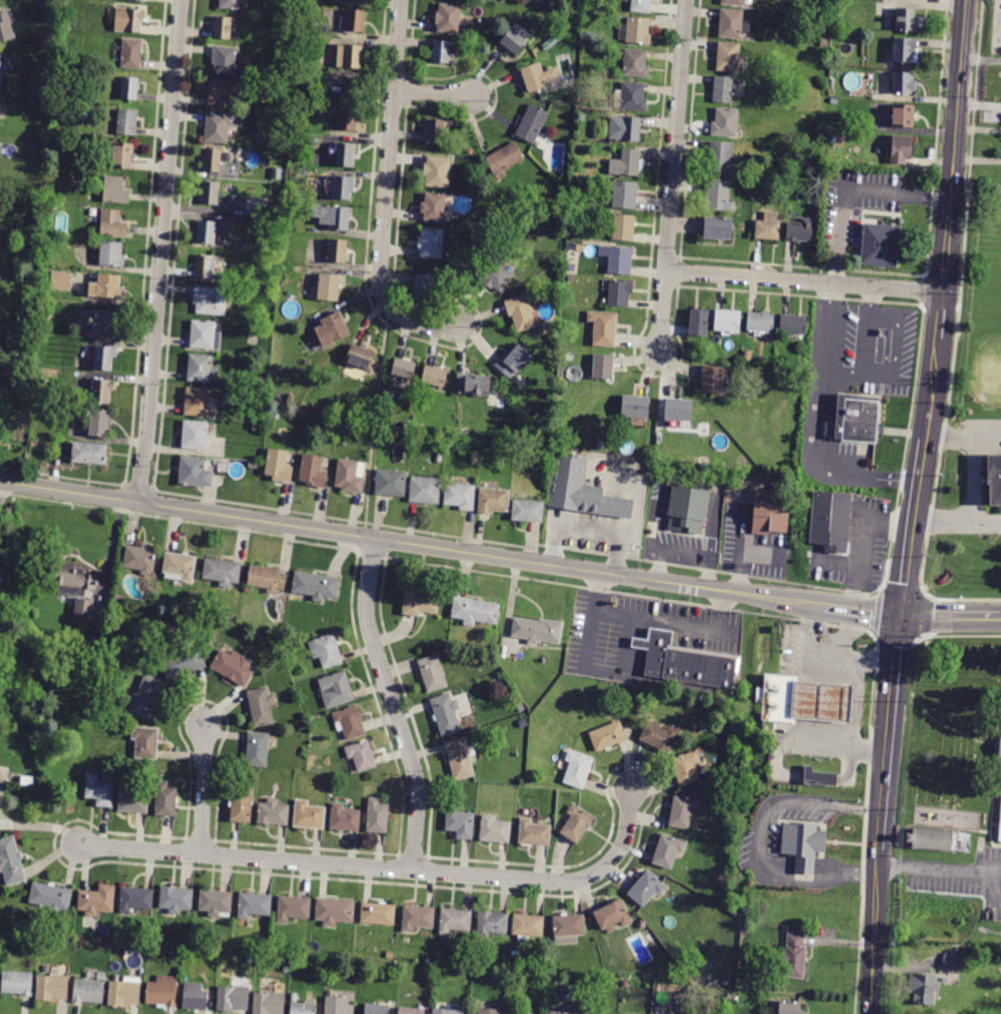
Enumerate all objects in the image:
building: (142, 0)
building: (350, 0)
building: (362, 0)
building: (733, 2)
building: (230, 4)
building: (641, 6)
building: (283, 9)
building: (449, 18)
building: (908, 19)
building: (134, 20)
building: (356, 21)
building: (732, 24)
building: (5, 26)
building: (576, 26)
building: (222, 27)
building: (636, 31)
building: (587, 35)
building: (285, 39)
building: (514, 42)
building: (824, 42)
building: (905, 50)
building: (441, 52)
building: (132, 54)
building: (350, 56)
building: (729, 56)
building: (224, 60)
building: (636, 63)
building: (2, 69)
building: (538, 77)
building: (832, 82)
building: (904, 83)
building: (344, 87)
building: (130, 88)
building: (723, 89)
building: (222, 92)
road: (434, 93)
building: (631, 97)
building: (834, 101)
building: (327, 115)
building: (903, 116)
building: (348, 119)
building: (127, 122)
building: (725, 123)
building: (532, 124)
building: (221, 126)
building: (625, 128)
building: (435, 130)
road: (934, 137)
building: (314, 142)
road: (954, 146)
building: (901, 149)
building: (123, 155)
building: (345, 155)
building: (720, 157)
building: (505, 158)
building: (212, 160)
building: (627, 163)
building: (437, 171)
road: (673, 176)
building: (343, 187)
building: (116, 190)
road: (386, 191)
building: (210, 193)
building: (624, 195)
building: (719, 195)
building: (578, 203)
building: (257, 206)
building: (434, 207)
building: (332, 216)
building: (112, 223)
building: (622, 226)
building: (768, 227)
building: (718, 228)
building: (800, 230)
building: (207, 233)
building: (574, 235)
building: (431, 243)
building: (881, 245)
road: (161, 251)
building: (338, 251)
building: (111, 254)
park: (995, 256)
building: (618, 259)
building: (204, 266)
building: (571, 268)
building: (466, 270)
building: (496, 271)
building: (61, 281)
road: (804, 281)
building: (106, 286)
building: (423, 286)
building: (327, 288)
road: (923, 289)
building: (620, 293)
road: (958, 295)
building: (211, 300)
road: (937, 305)
road: (955, 307)
building: (521, 312)
road: (940, 313)
building: (106, 321)
building: (728, 321)
building: (760, 322)
building: (699, 323)
building: (793, 324)
building: (604, 328)
road: (865, 329)
building: (332, 330)
building: (205, 335)
road: (885, 344)
road: (892, 345)
park: (991, 349)
building: (747, 355)
building: (361, 356)
building: (105, 358)
building: (513, 361)
building: (604, 367)
building: (202, 368)
building: (404, 368)
road: (841, 370)
building: (435, 376)
building: (712, 379)
building: (263, 380)
building: (474, 384)
road: (933, 384)
building: (103, 390)
building: (263, 394)
building: (197, 402)
building: (37, 406)
building: (636, 407)
road: (815, 408)
building: (678, 409)
road: (829, 420)
building: (855, 420)
building: (100, 422)
building: (341, 428)
building: (195, 434)
building: (465, 434)
road: (987, 436)
road: (951, 437)
road: (903, 447)
building: (89, 453)
building: (439, 458)
building: (473, 459)
building: (253, 464)
building: (279, 465)
building: (313, 471)
building: (195, 472)
building: (350, 476)
road: (896, 478)
building: (993, 478)
road: (974, 480)
building: (391, 482)
building: (721, 484)
building: (426, 489)
building: (583, 492)
road: (2, 493)
building: (460, 496)
building: (494, 501)
building: (528, 510)
building: (687, 510)
building: (771, 511)
building: (831, 518)
road: (943, 520)
road: (987, 521)
road: (913, 524)
road: (590, 528)
road: (413, 542)
road: (111, 549)
building: (140, 559)
building: (180, 566)
building: (222, 572)
building: (72, 578)
building: (267, 578)
building: (316, 585)
road: (900, 589)
building: (248, 590)
road: (592, 591)
road: (958, 599)
building: (420, 601)
building: (84, 607)
road: (863, 609)
building: (475, 611)
road: (875, 612)
road: (925, 614)
traffic signals: (899, 615)
road: (950, 615)
road: (673, 623)
building: (2, 626)
building: (537, 630)
road: (847, 633)
road: (954, 634)
road: (893, 637)
road: (808, 640)
building: (326, 650)
road: (639, 654)
building: (96, 657)
road: (849, 660)
building: (184, 662)
building: (687, 662)
building: (234, 667)
road: (600, 667)
building: (433, 673)
building: (336, 689)
building: (146, 696)
building: (775, 696)
building: (817, 701)
gas station: (823, 701)
road: (828, 702)
road: (394, 703)
building: (261, 706)
building: (631, 707)
building: (446, 714)
building: (350, 722)
road: (887, 733)
building: (608, 736)
building: (659, 736)
building: (146, 742)
road: (845, 744)
building: (997, 746)
building: (257, 749)
building: (361, 755)
building: (460, 758)
building: (577, 768)
building: (686, 768)
building: (819, 777)
road: (990, 780)
building: (28, 782)
building: (100, 790)
road: (206, 790)
building: (133, 800)
building: (165, 800)
building: (242, 805)
building: (273, 812)
building: (682, 812)
building: (998, 814)
building: (309, 815)
building: (377, 816)
building: (344, 818)
road: (757, 818)
road: (991, 820)
building: (460, 822)
building: (576, 824)
road: (42, 825)
building: (495, 829)
road: (902, 829)
road: (980, 830)
building: (534, 833)
building: (940, 840)
building: (803, 845)
road: (995, 845)
building: (667, 851)
building: (11, 861)
road: (801, 862)
road: (939, 866)
road: (388, 868)
road: (858, 873)
building: (646, 889)
road: (988, 890)
building: (51, 897)
building: (136, 899)
building: (176, 899)
building: (97, 900)
building: (215, 902)
building: (254, 905)
building: (293, 908)
building: (335, 911)
building: (378, 913)
building: (612, 914)
building: (418, 918)
building: (455, 920)
building: (492, 923)
building: (528, 925)
building: (569, 925)
road: (871, 932)
building: (794, 956)
building: (951, 961)
building: (480, 963)
building: (513, 967)
building: (102, 976)
building: (18, 982)
building: (52, 987)
building: (922, 989)
building: (88, 991)
building: (162, 991)
building: (124, 993)
building: (195, 996)
building: (233, 998)
building: (269, 1003)
building: (339, 1006)
building: (788, 1007)
building: (303, 1008)
building: (376, 1009)
building: (411, 1010)
building: (446, 1011)
building: (489, 1011)
building: (553, 1013)

